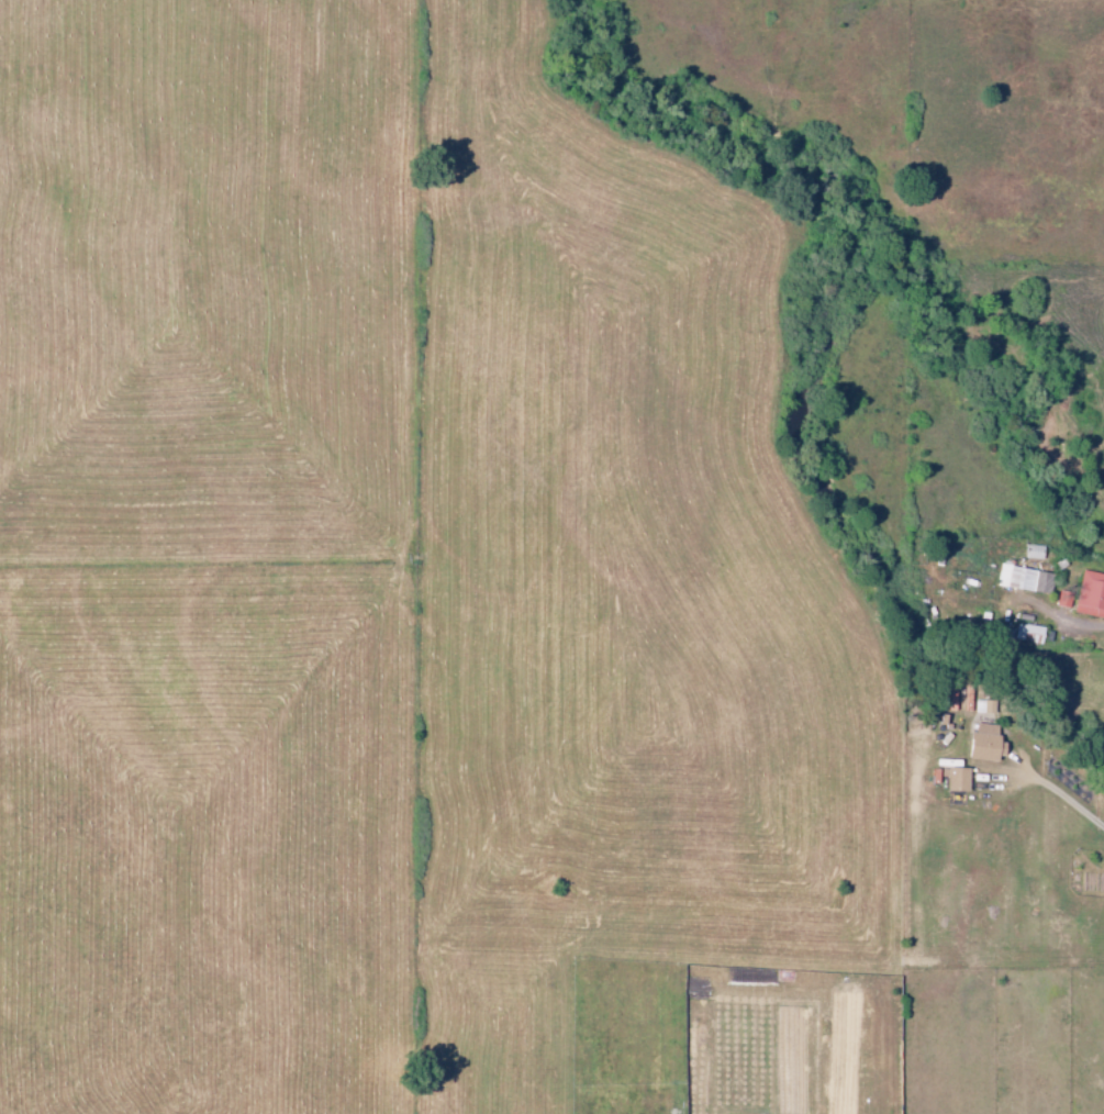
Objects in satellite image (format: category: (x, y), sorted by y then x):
building: (1022, 579)
building: (1089, 594)
building: (1060, 599)
road: (1101, 626)
building: (1025, 630)
building: (981, 743)
building: (955, 779)

